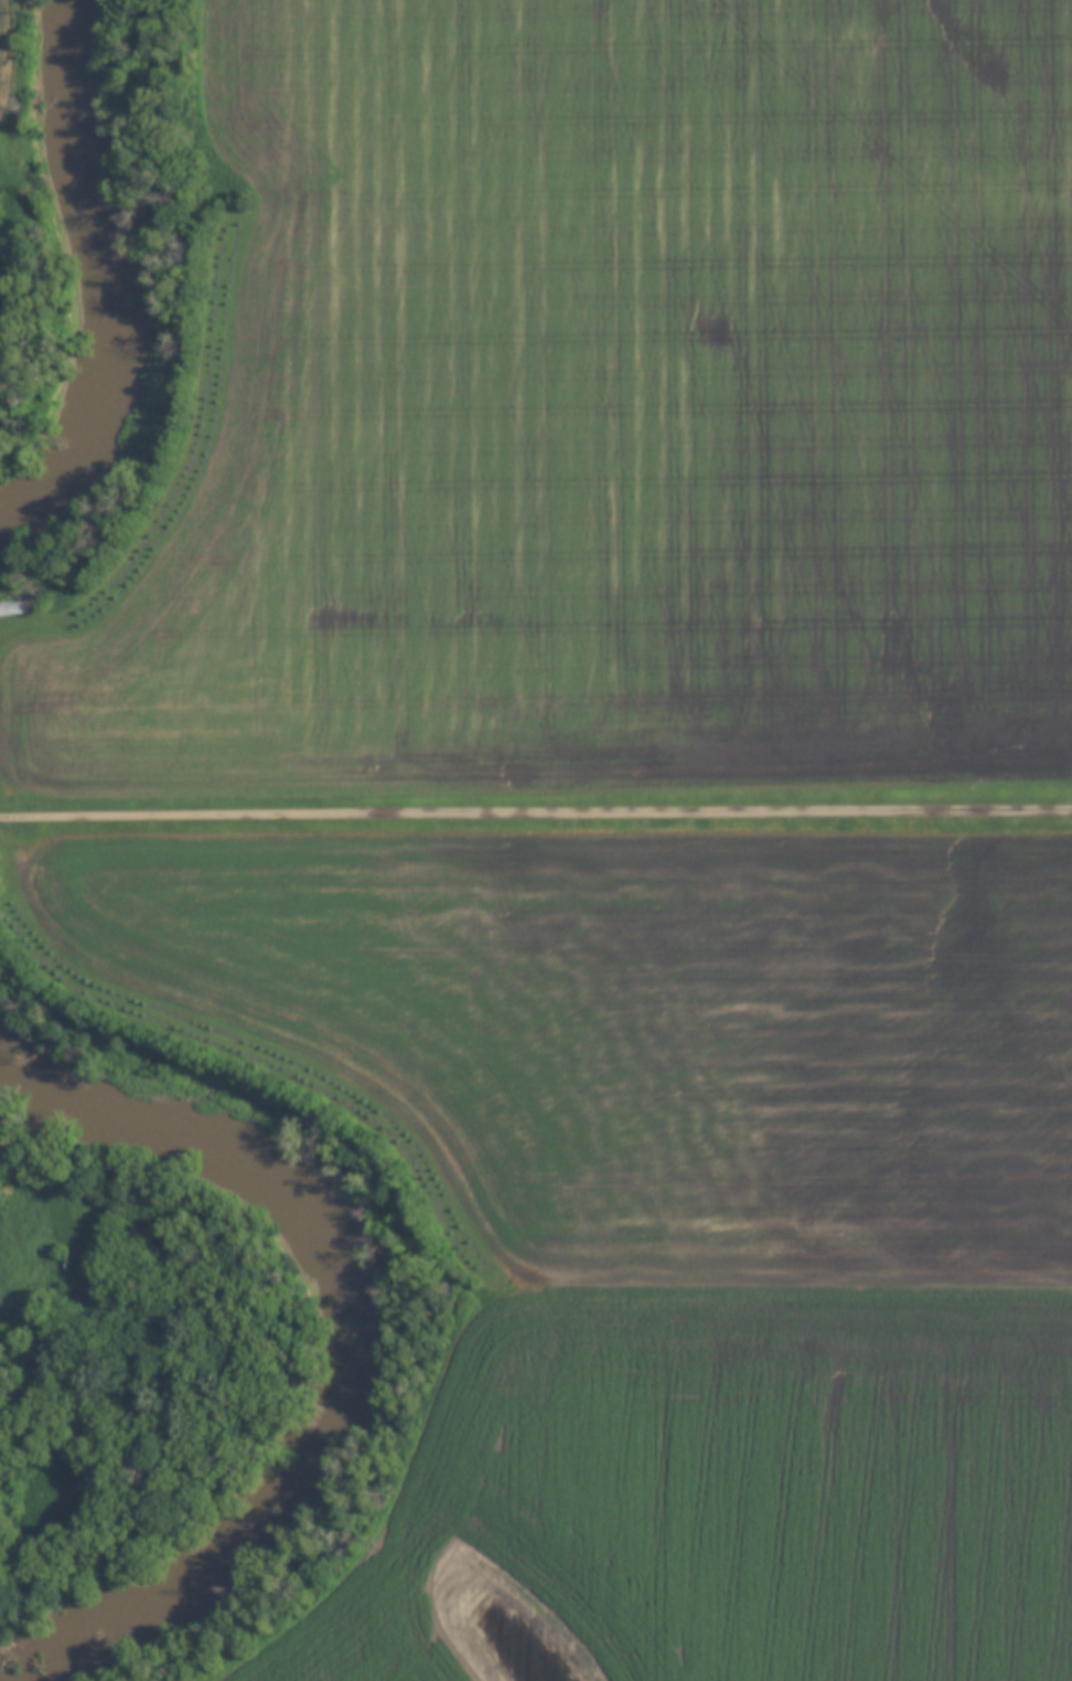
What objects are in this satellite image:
river: (88, 265)
building: (11, 608)
road: (535, 808)
river: (324, 1343)

